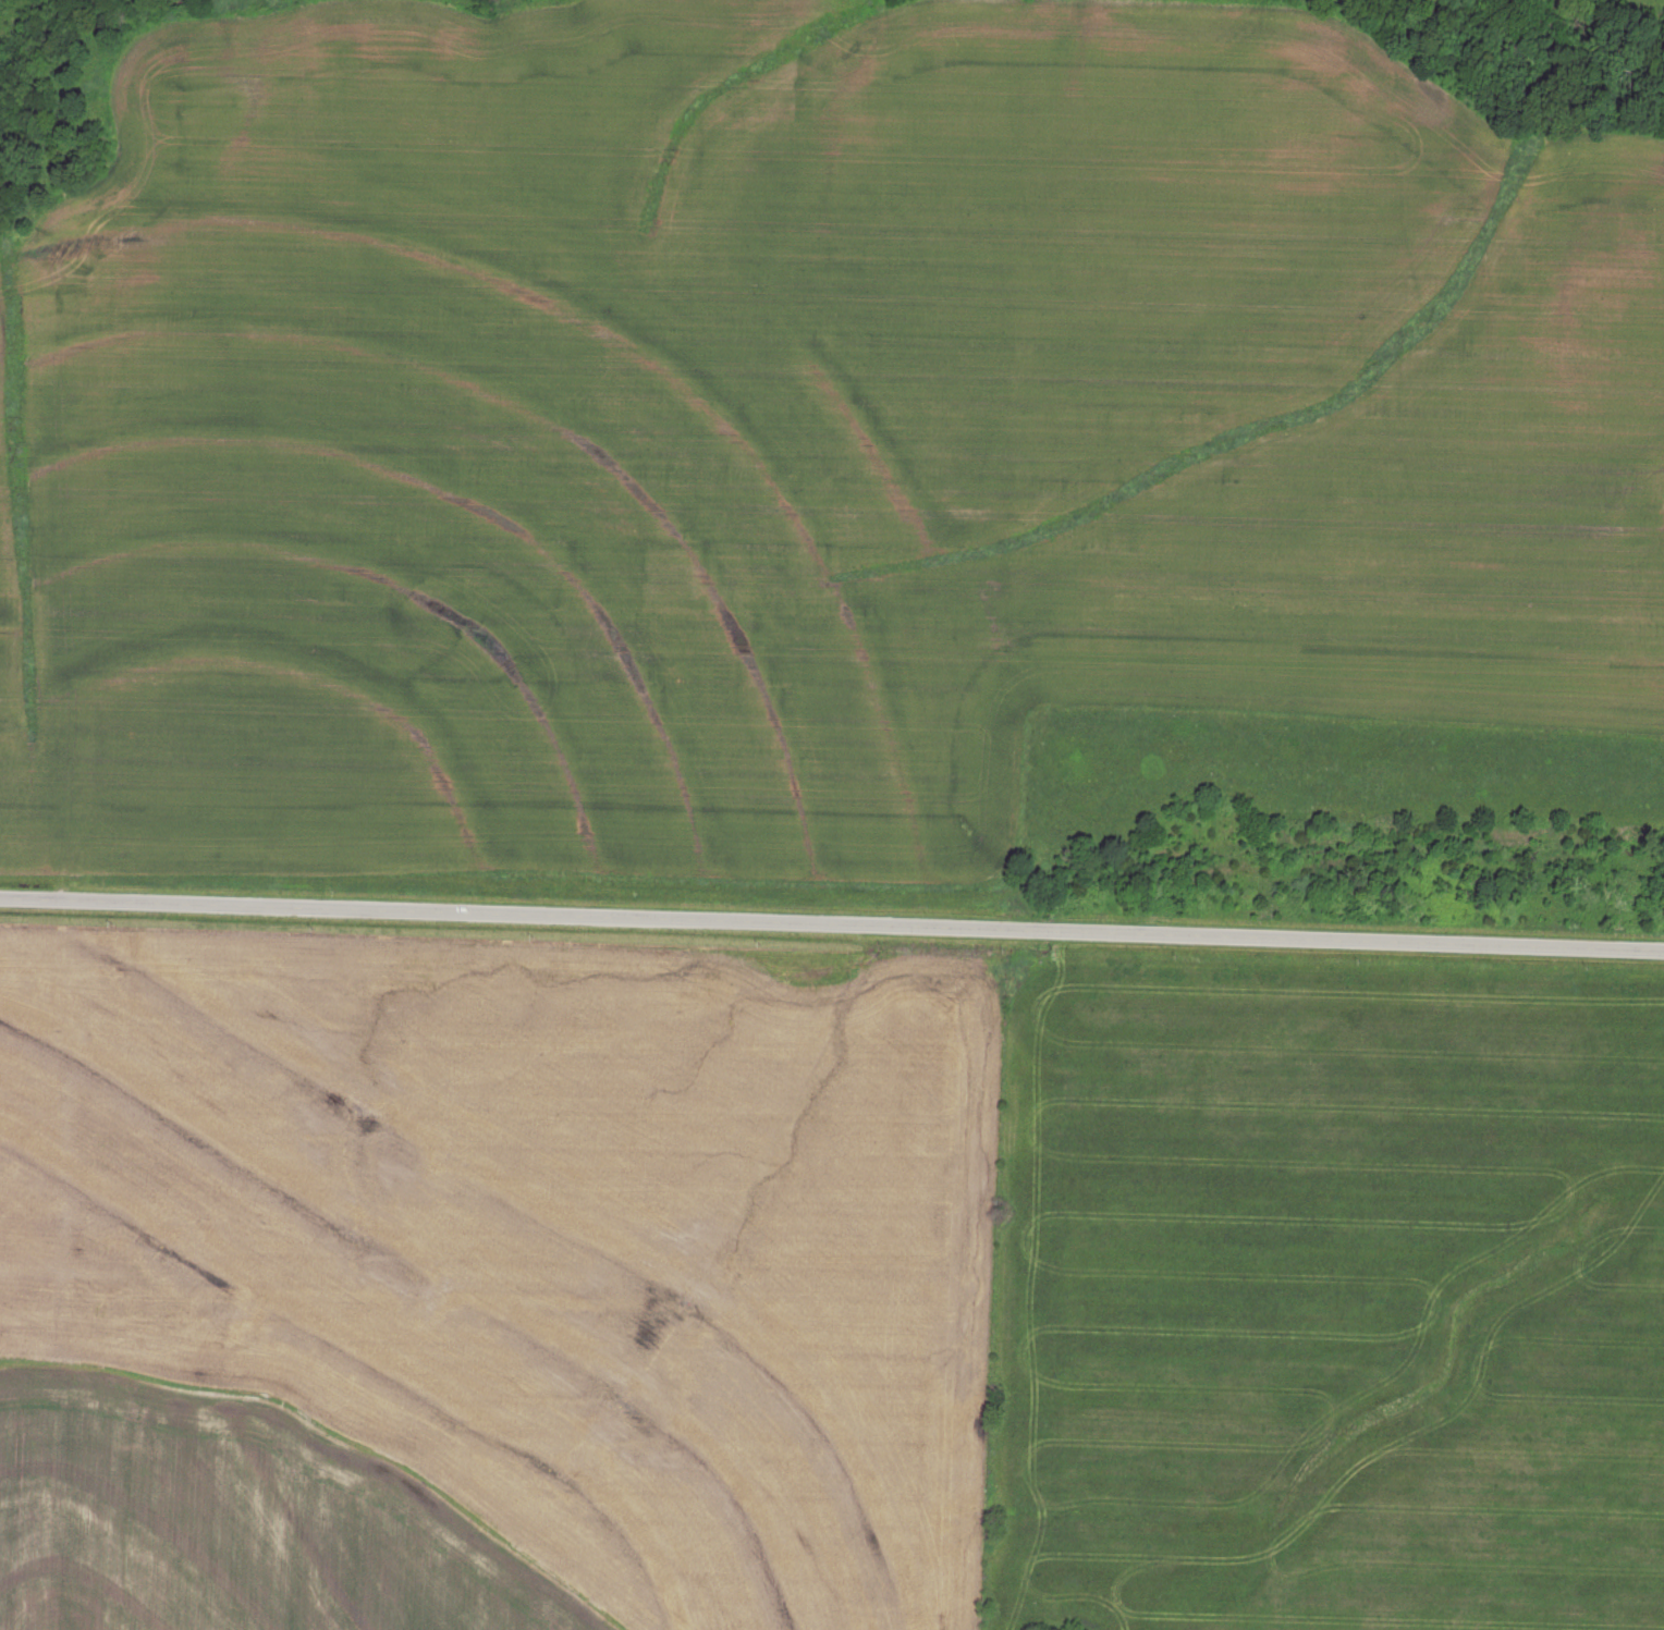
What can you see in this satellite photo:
road: (832, 924)

